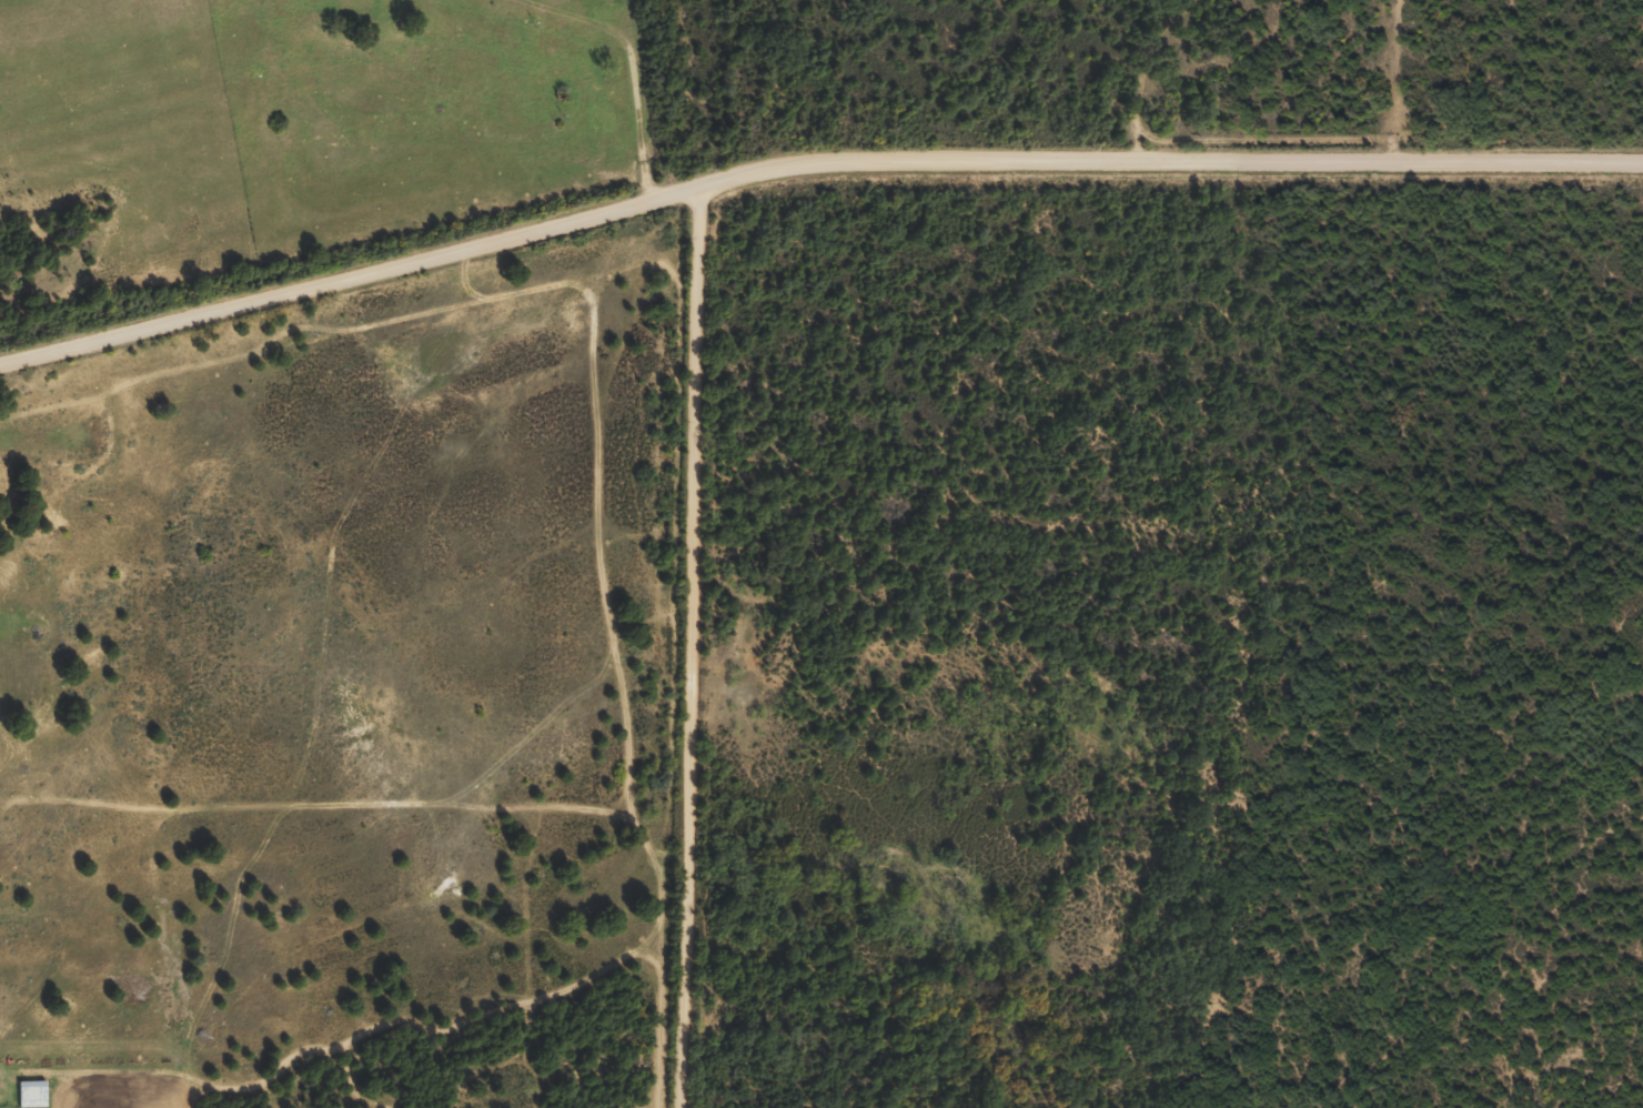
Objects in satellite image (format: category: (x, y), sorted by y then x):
road: (808, 165)
road: (697, 647)
building: (28, 1098)

